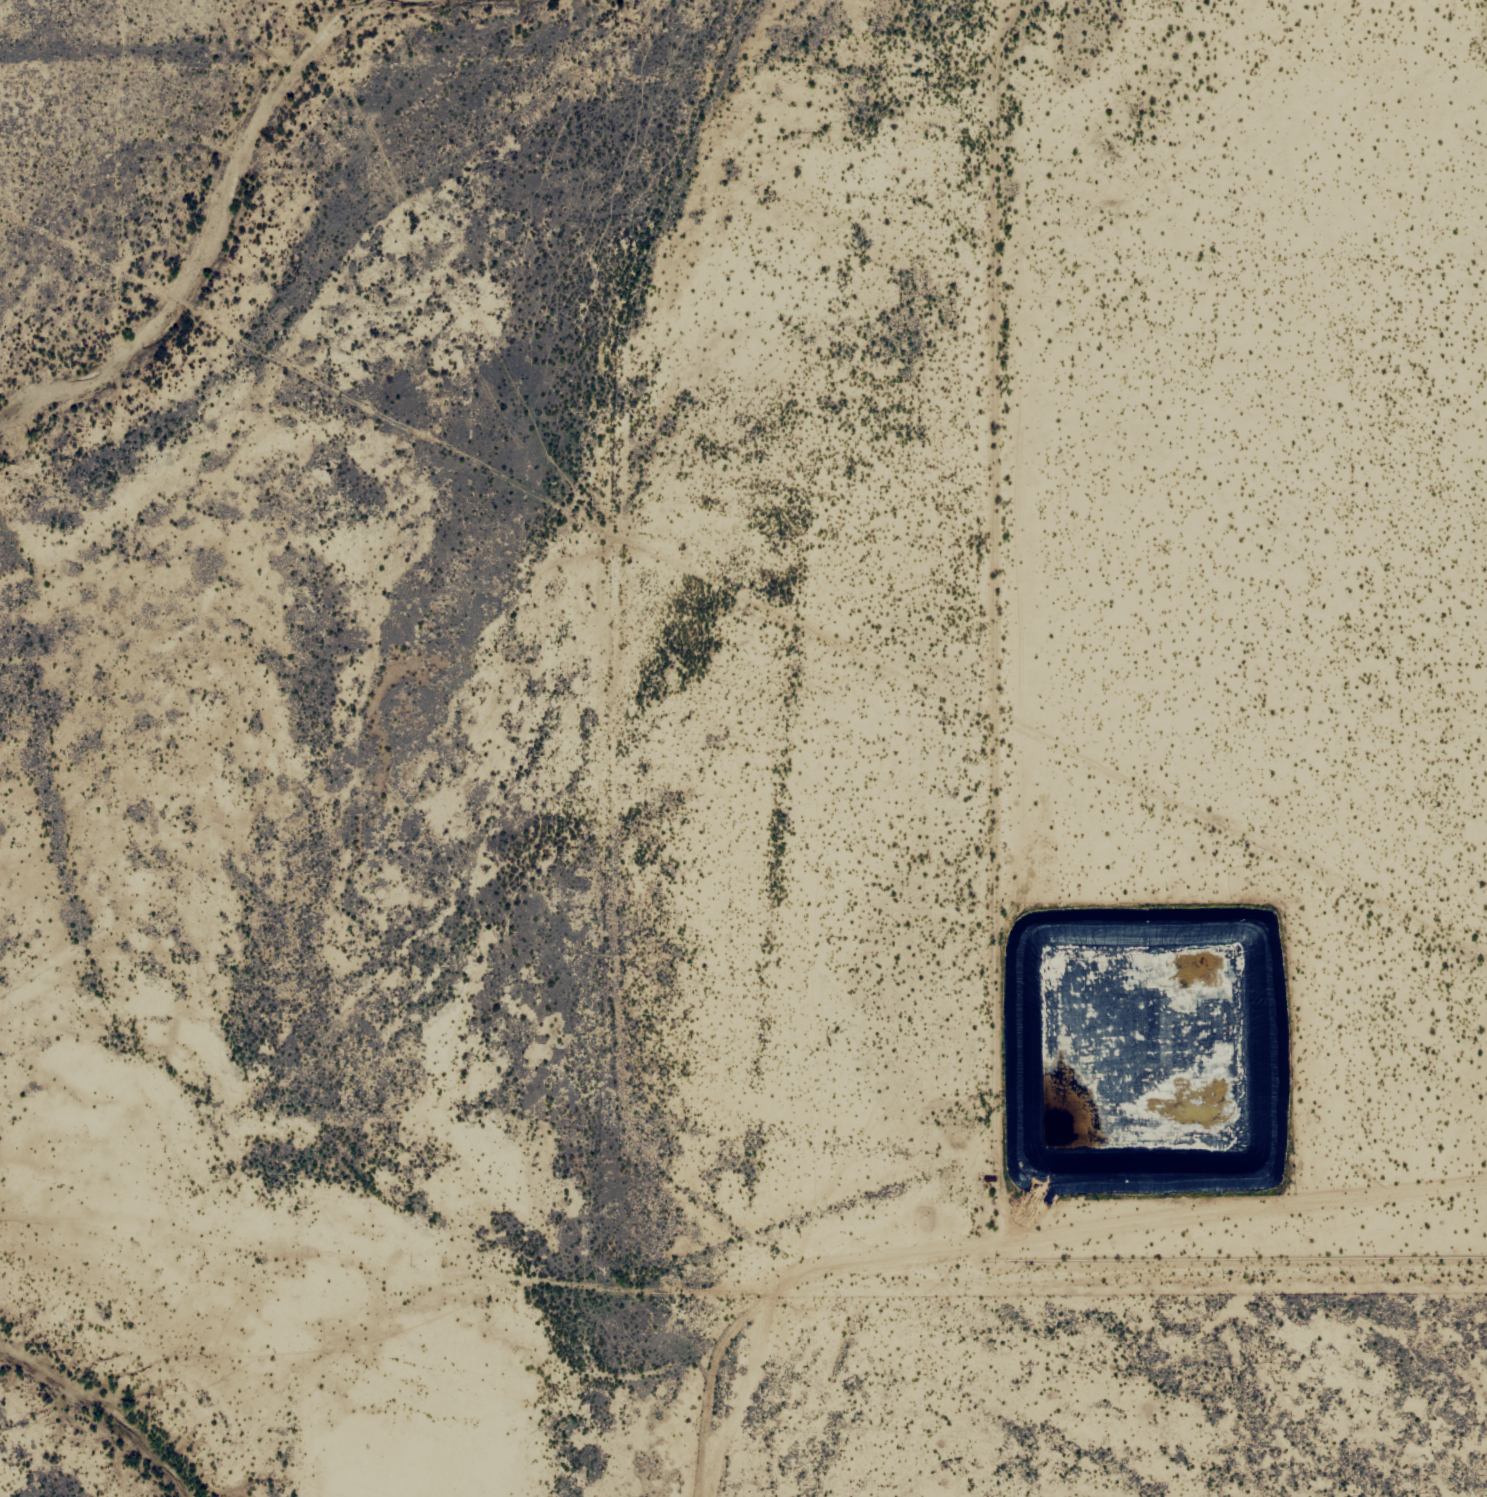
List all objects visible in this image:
road: (433, 1375)

